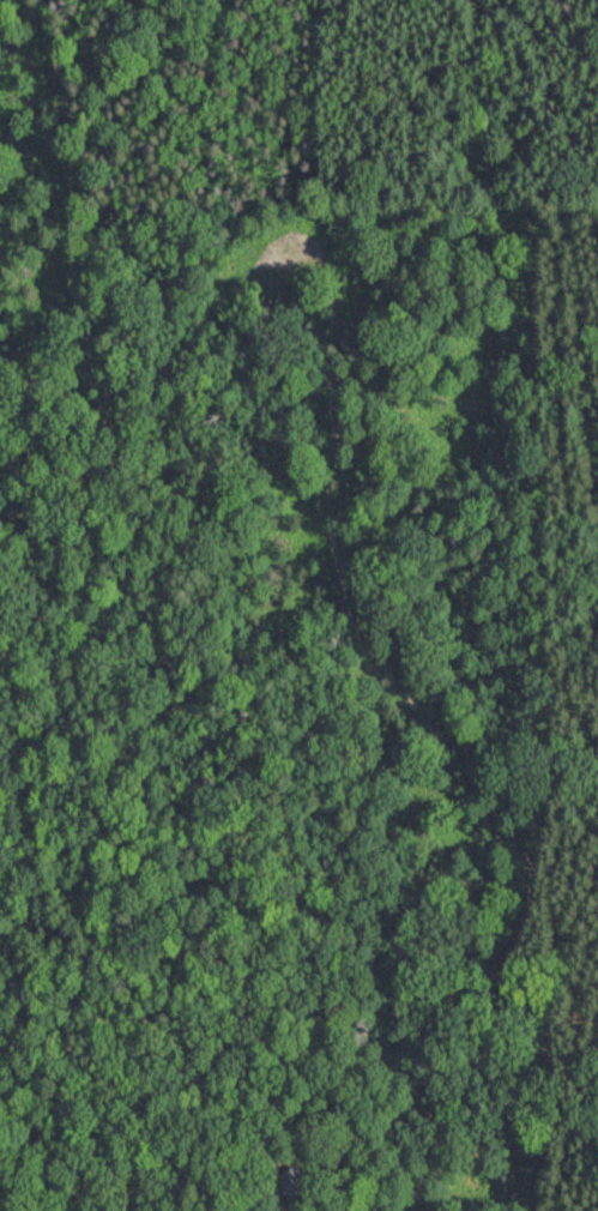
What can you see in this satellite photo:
road: (342, 591)

